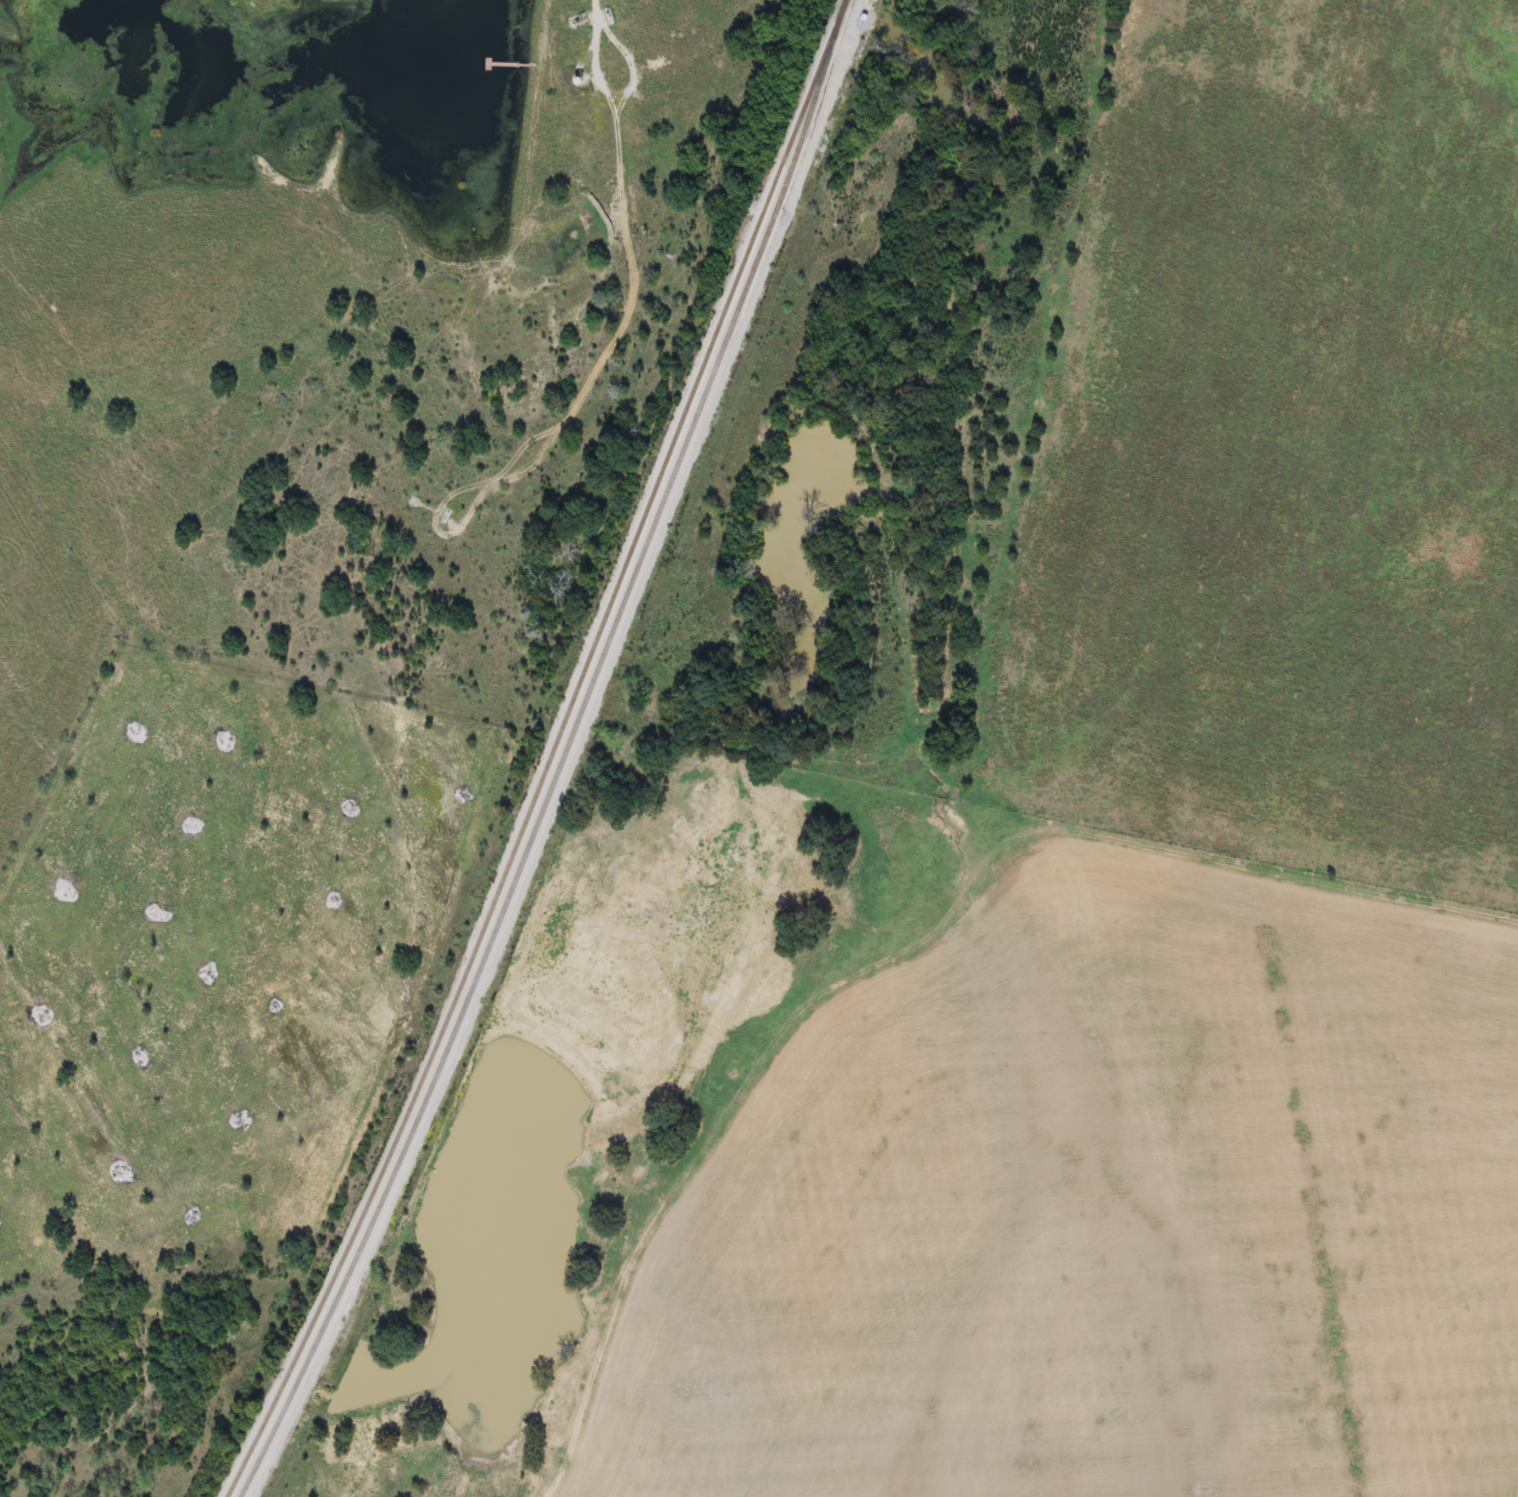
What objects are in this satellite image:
road: (594, 42)
railway: (549, 755)

